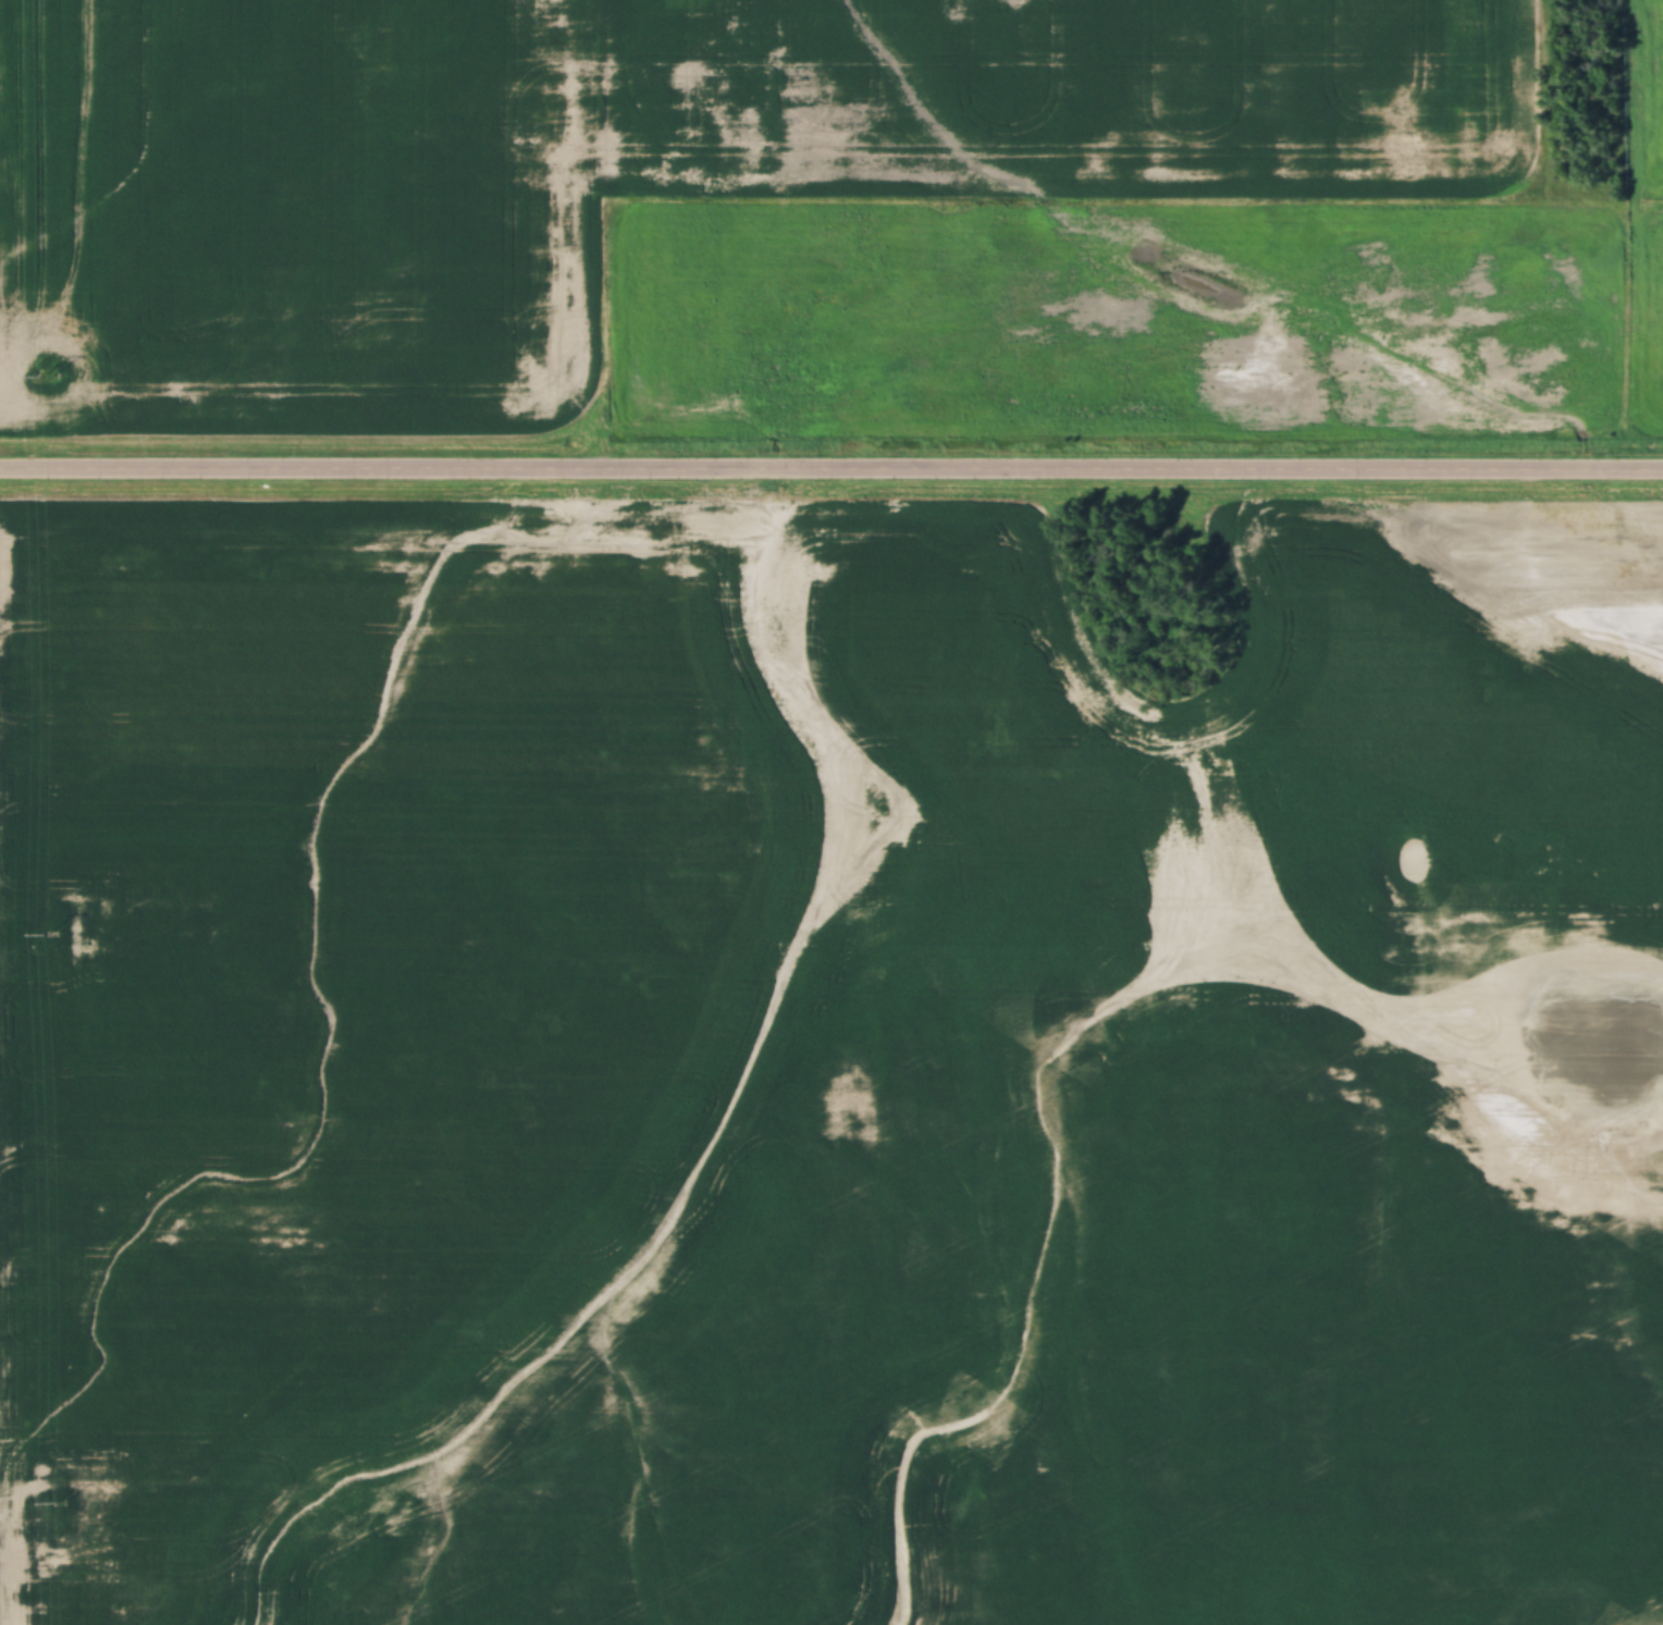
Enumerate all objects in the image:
power tower: (46, 378)
road: (831, 470)
power tower: (52, 936)
power tower: (59, 1504)

